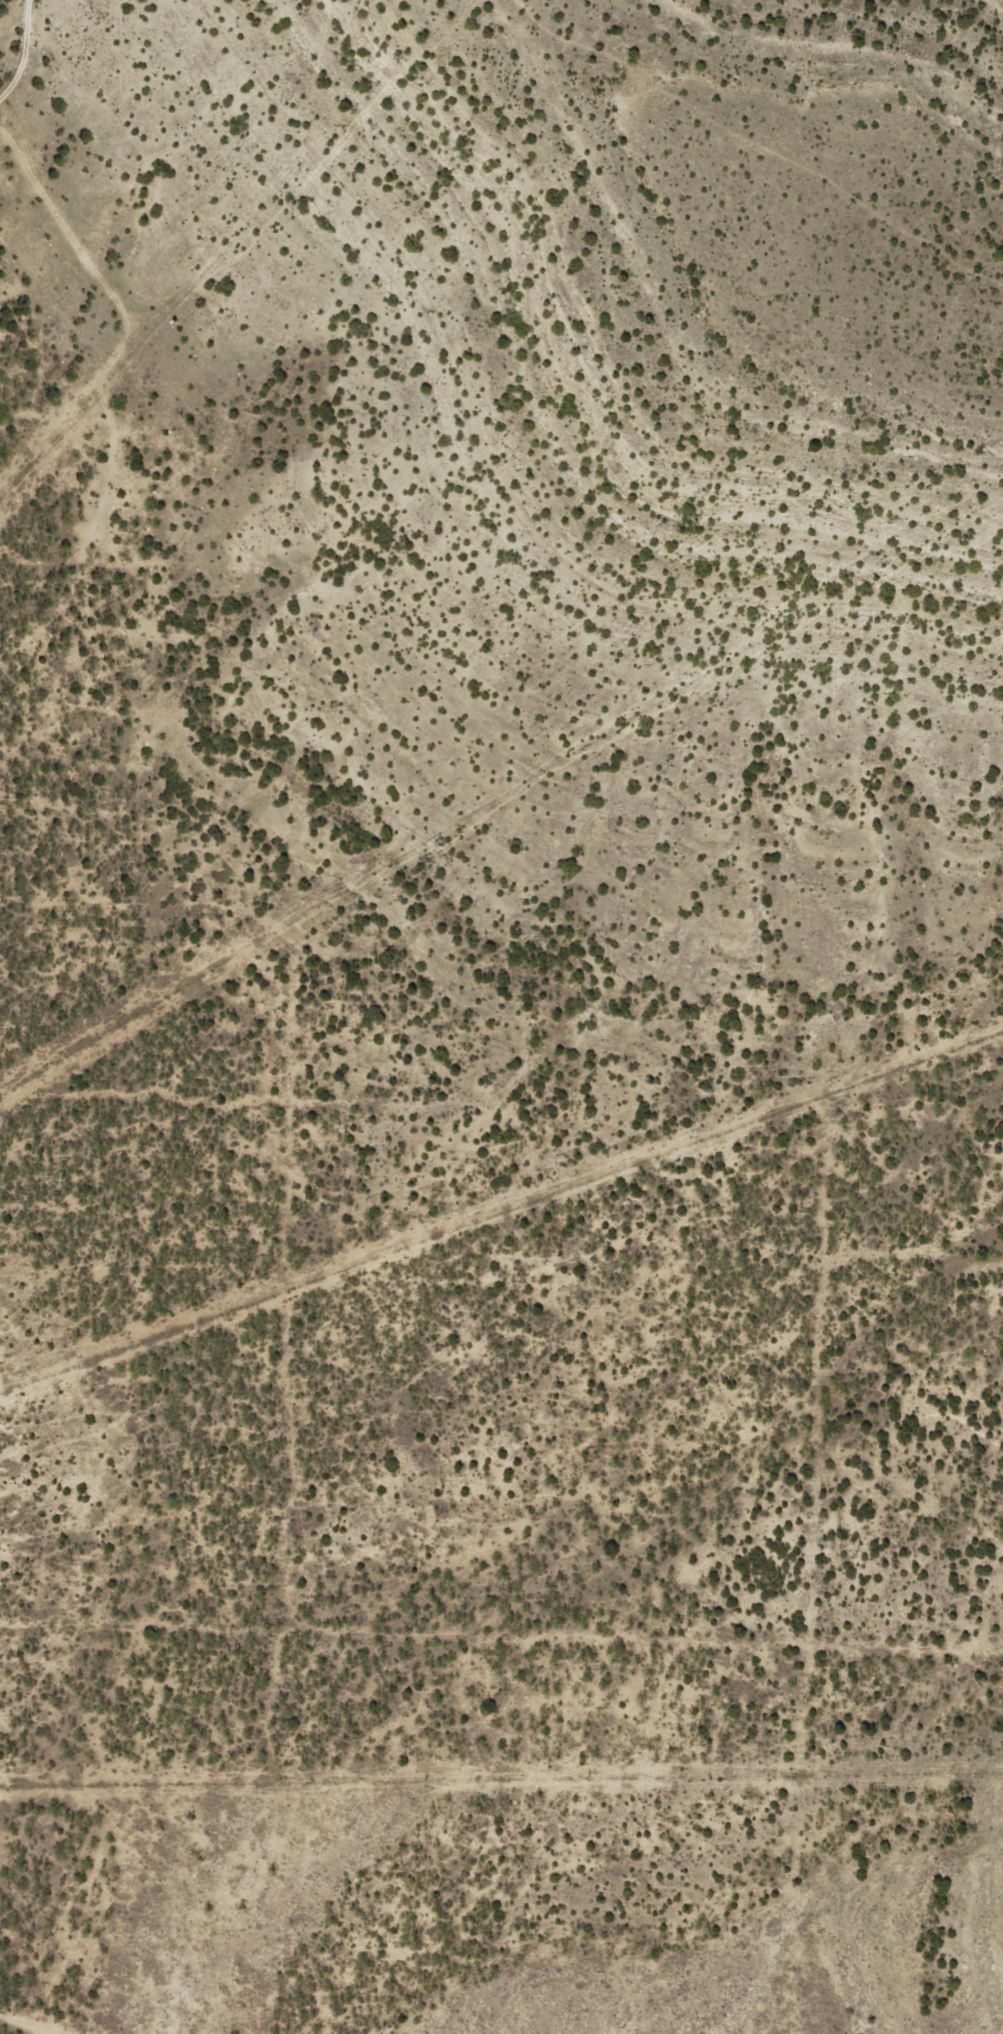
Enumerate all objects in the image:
road: (15, 2027)

